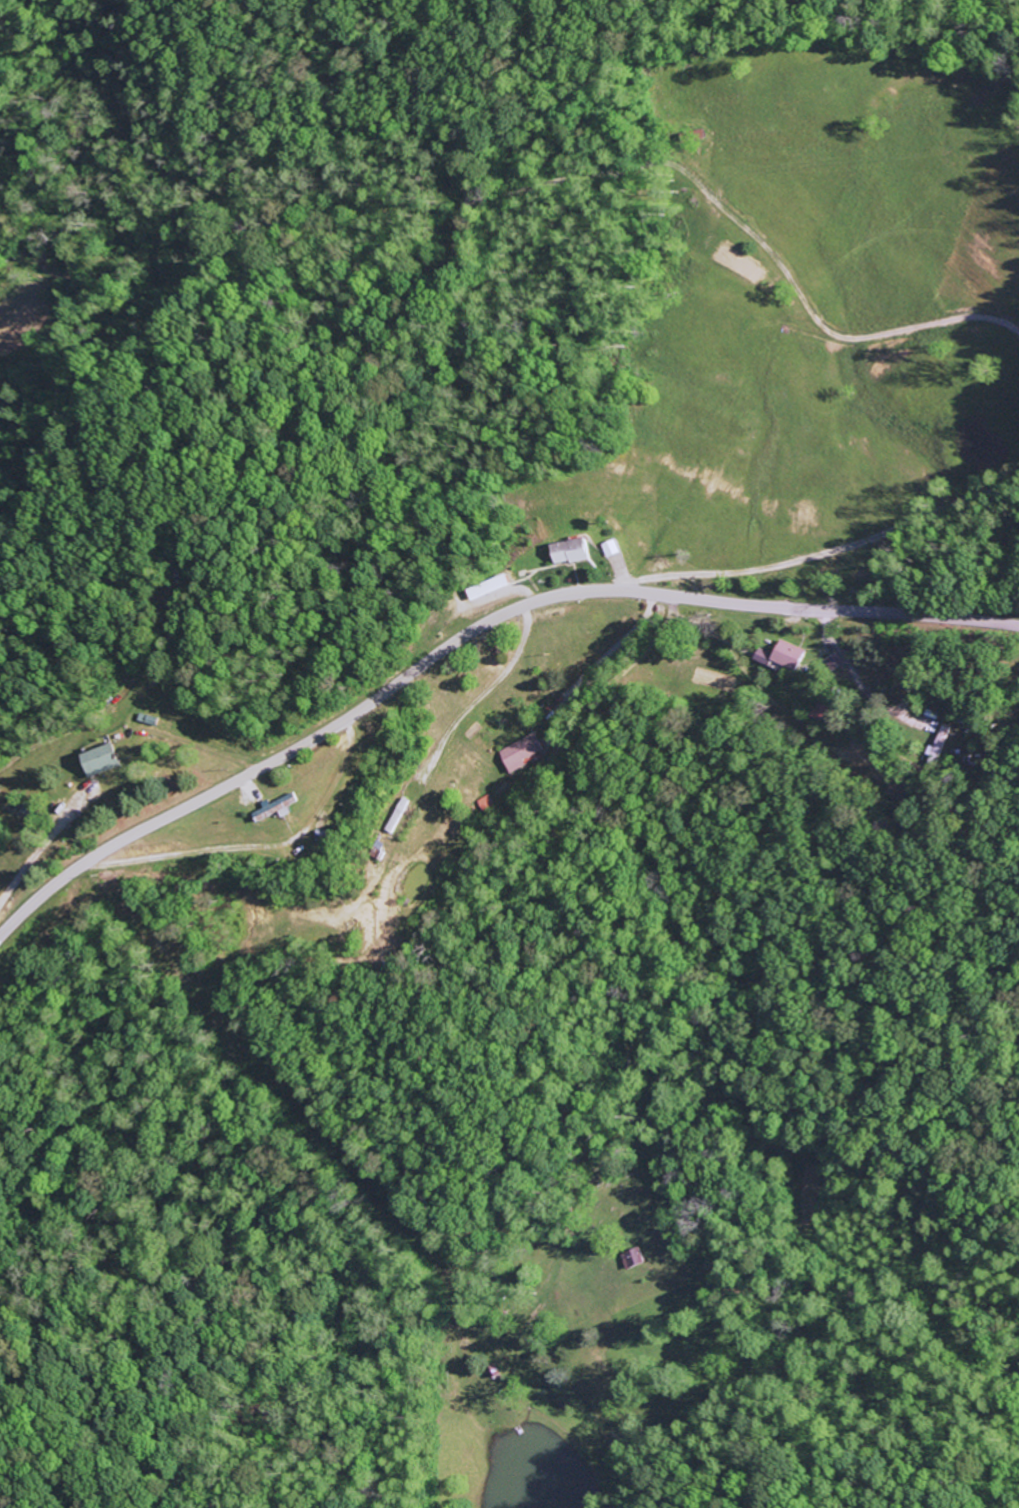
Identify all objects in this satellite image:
road: (758, 241)
building: (612, 549)
building: (571, 552)
road: (823, 555)
road: (469, 634)
building: (783, 657)
building: (149, 721)
road: (597, 734)
building: (941, 745)
building: (524, 754)
building: (101, 761)
building: (276, 809)
building: (30, 810)
road: (42, 843)
building: (636, 1259)

